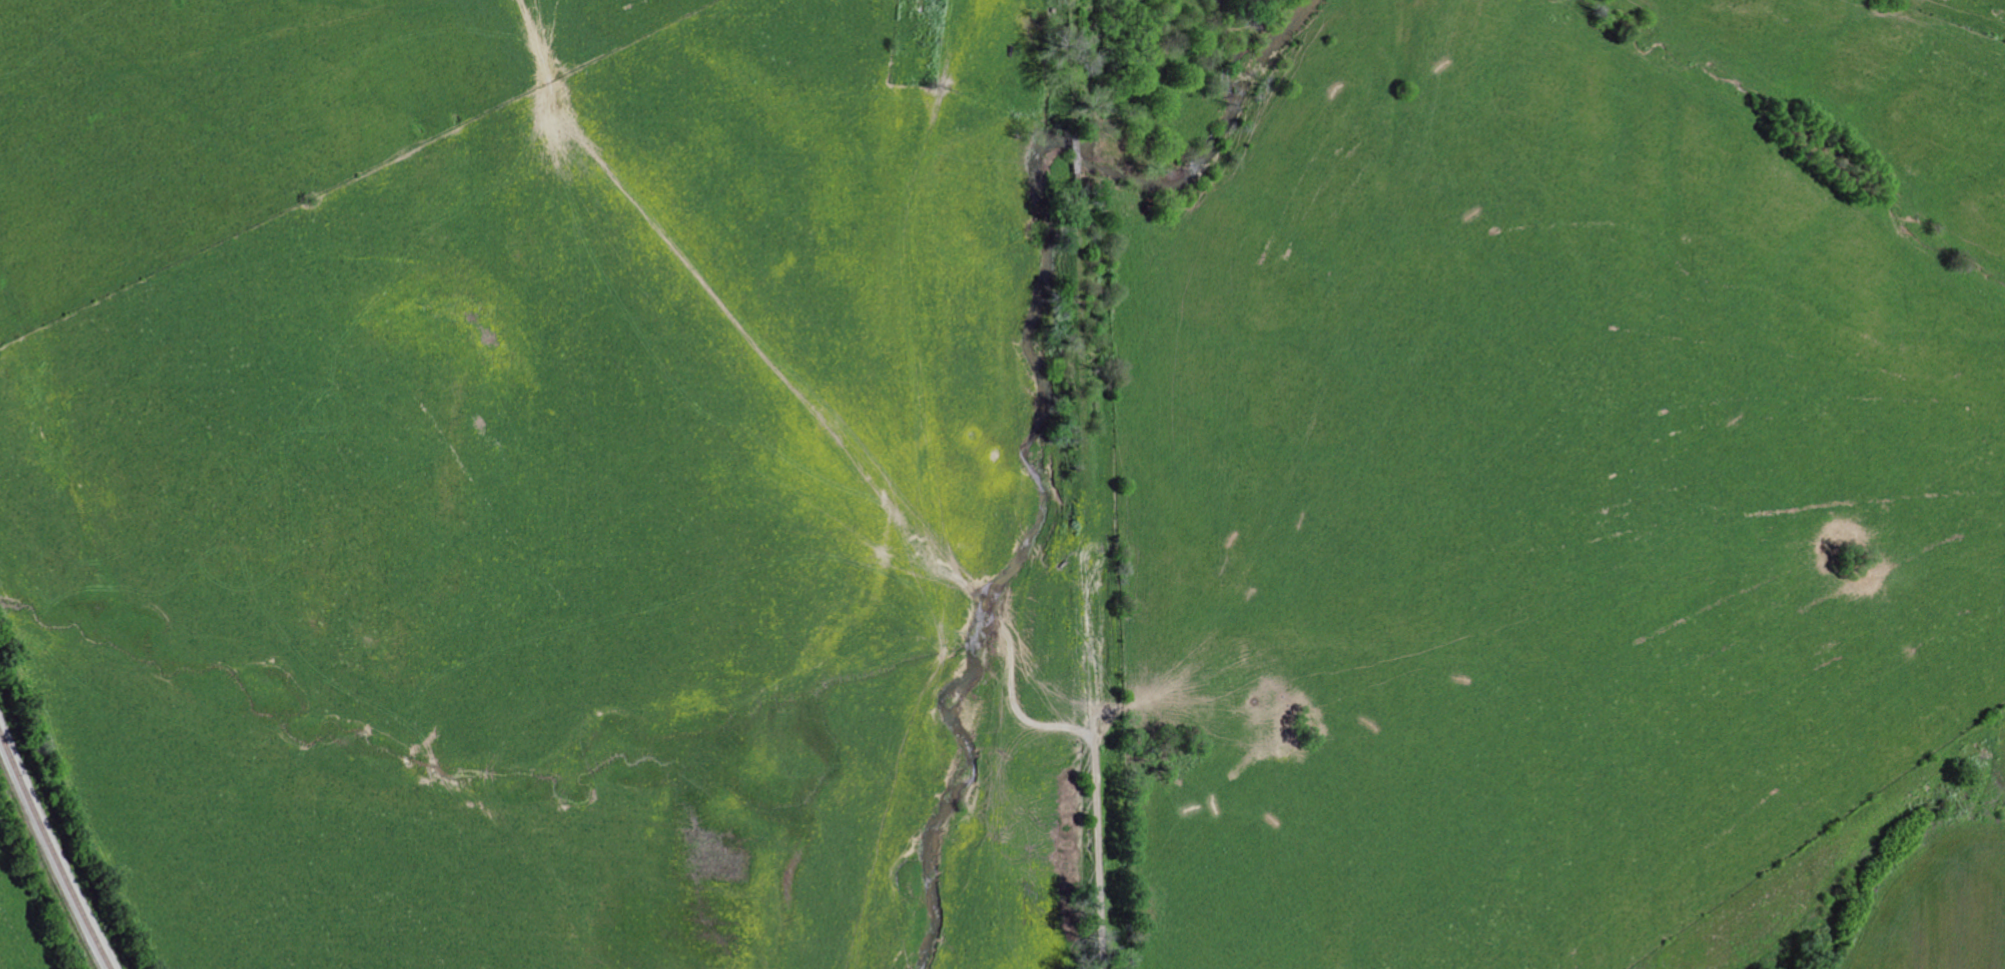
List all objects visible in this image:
railway: (50, 857)

